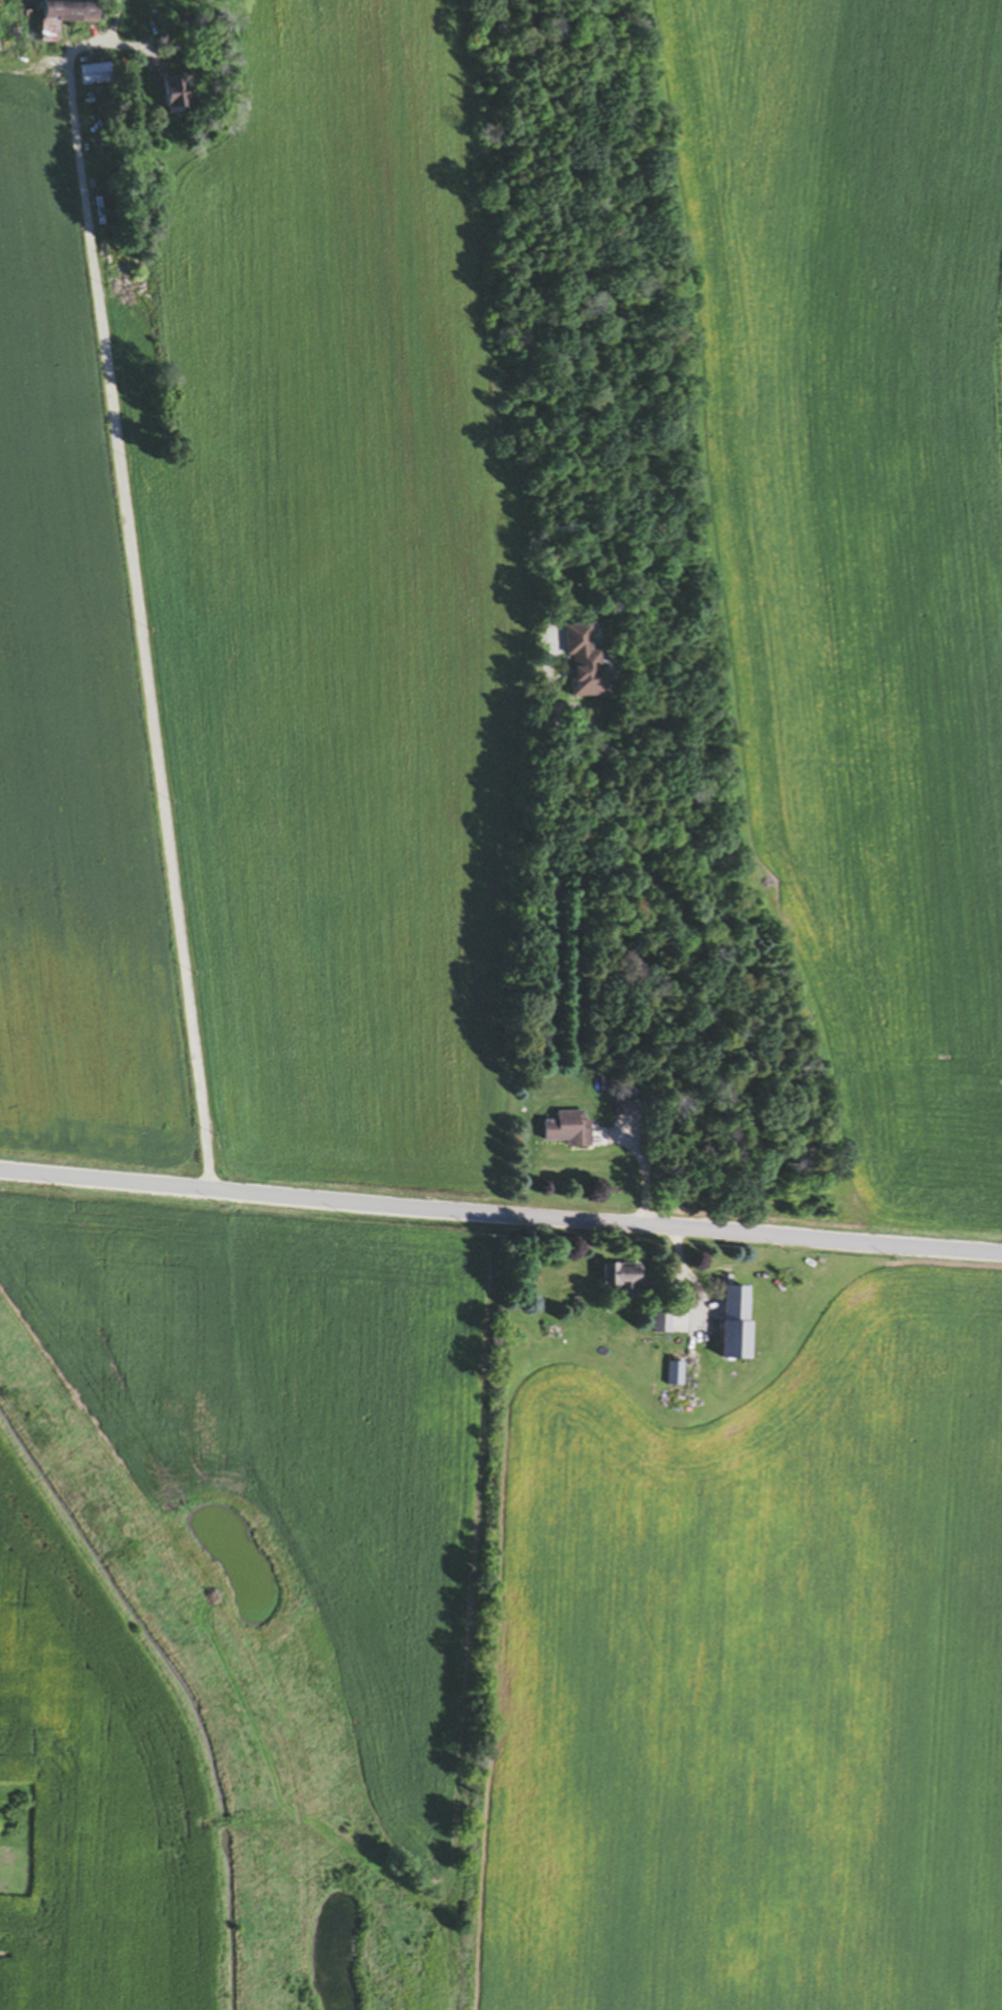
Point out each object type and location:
building: (65, 18)
building: (94, 77)
building: (177, 95)
road: (132, 628)
building: (588, 668)
building: (568, 1130)
road: (640, 1178)
road: (500, 1213)
building: (624, 1280)
building: (737, 1324)
building: (686, 1373)

